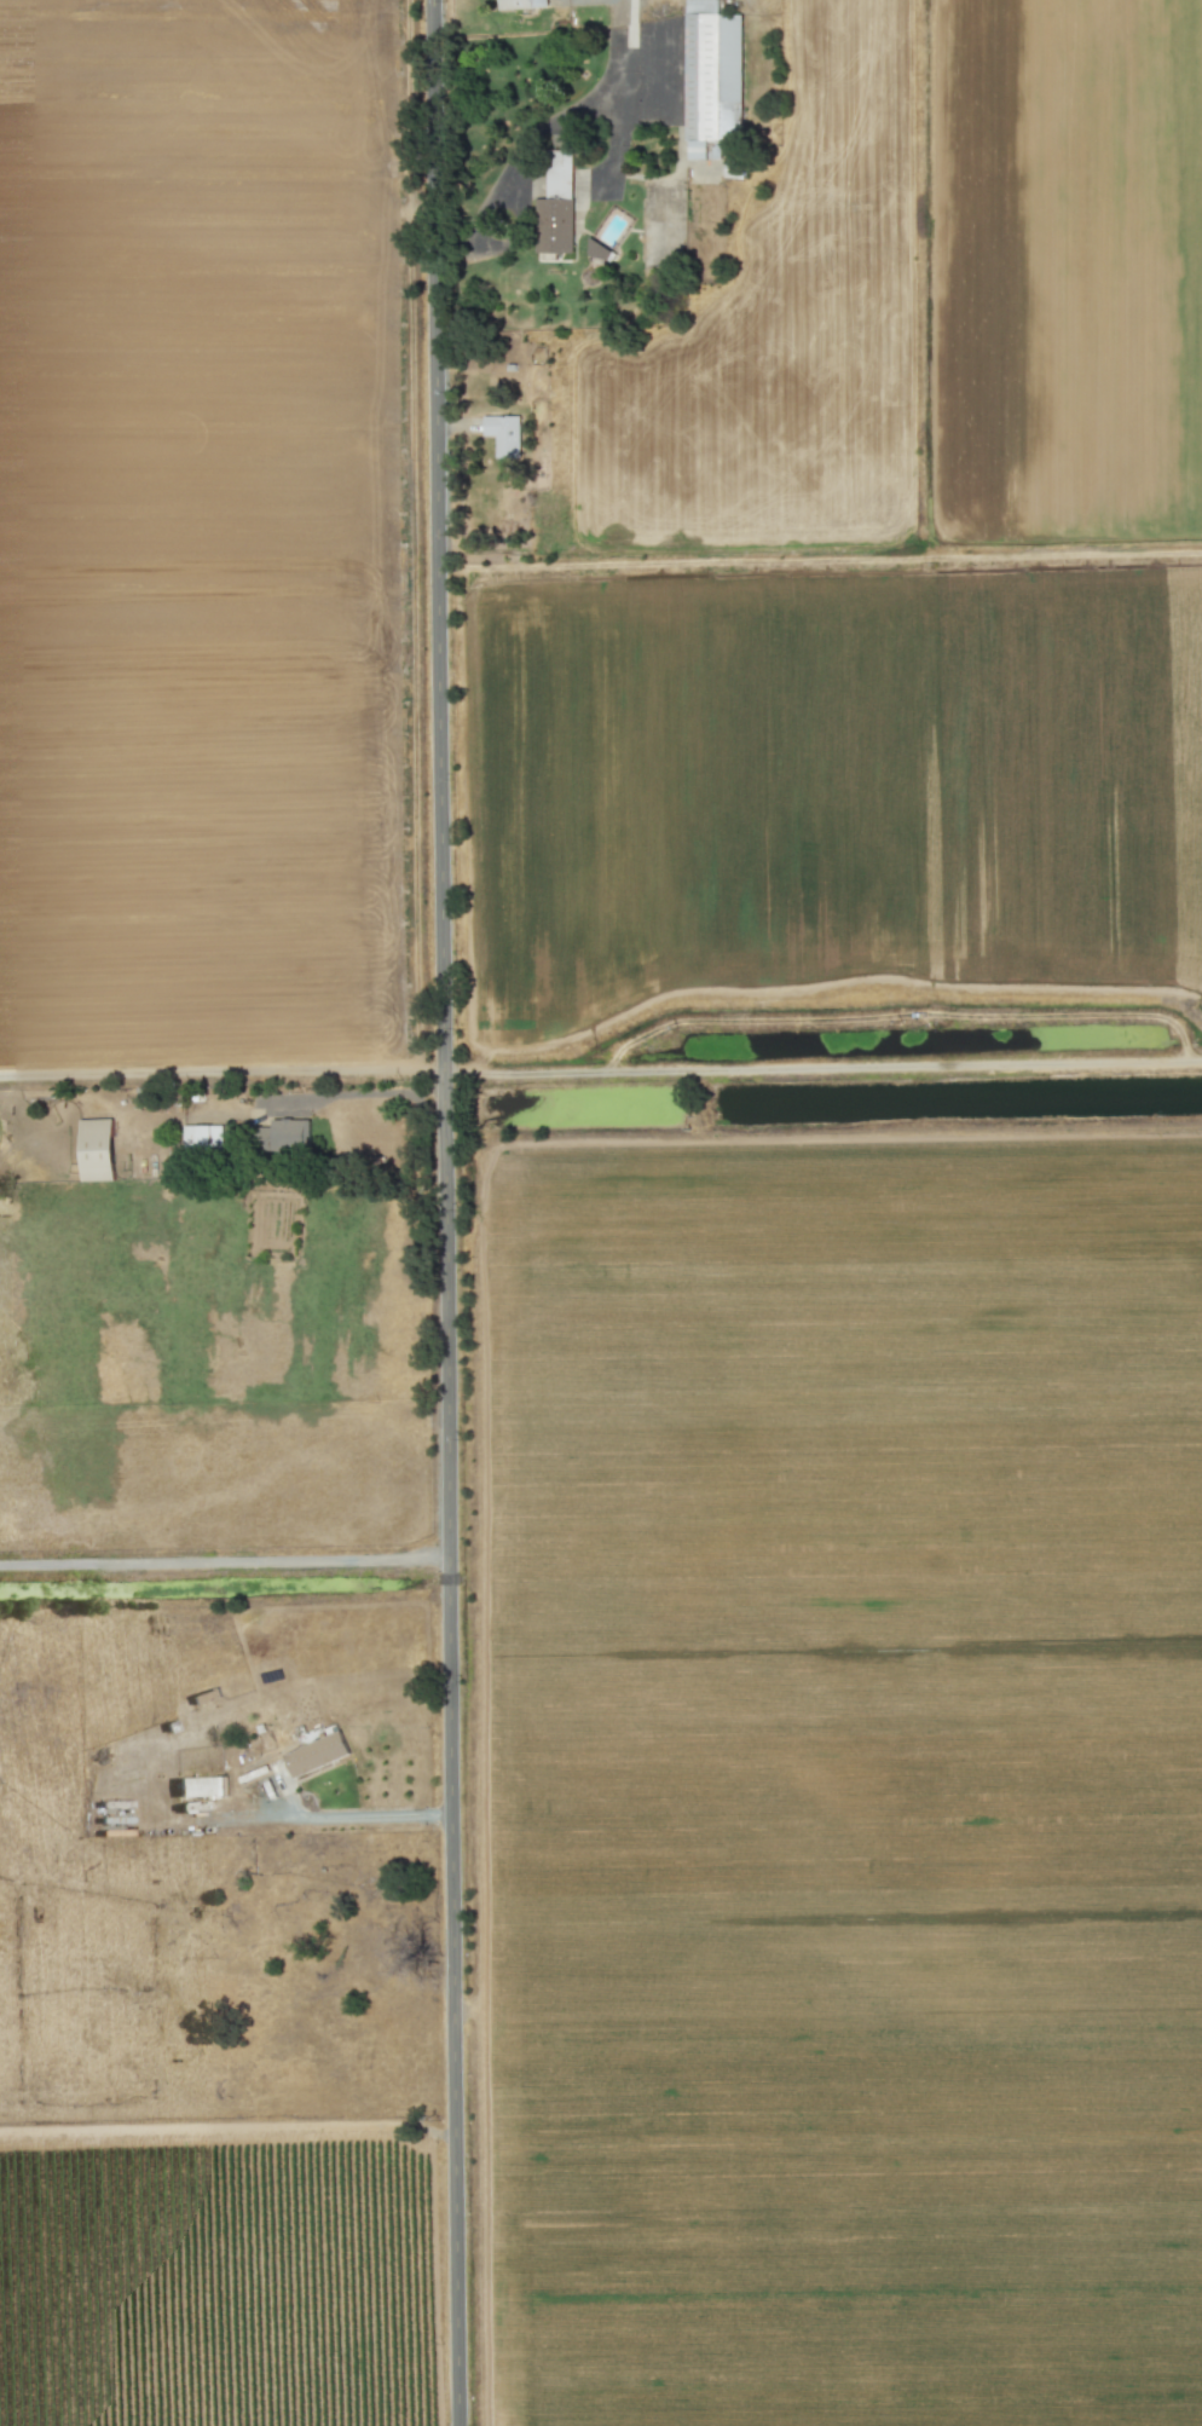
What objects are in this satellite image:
building: (521, 4)
building: (712, 79)
road: (547, 127)
building: (734, 169)
building: (556, 206)
building: (597, 253)
building: (503, 435)
road: (368, 1093)
building: (285, 1136)
building: (202, 1139)
building: (97, 1150)
road: (449, 1213)
road: (226, 1560)
building: (316, 1755)
building: (200, 1787)
road: (359, 1815)
road: (229, 2130)

